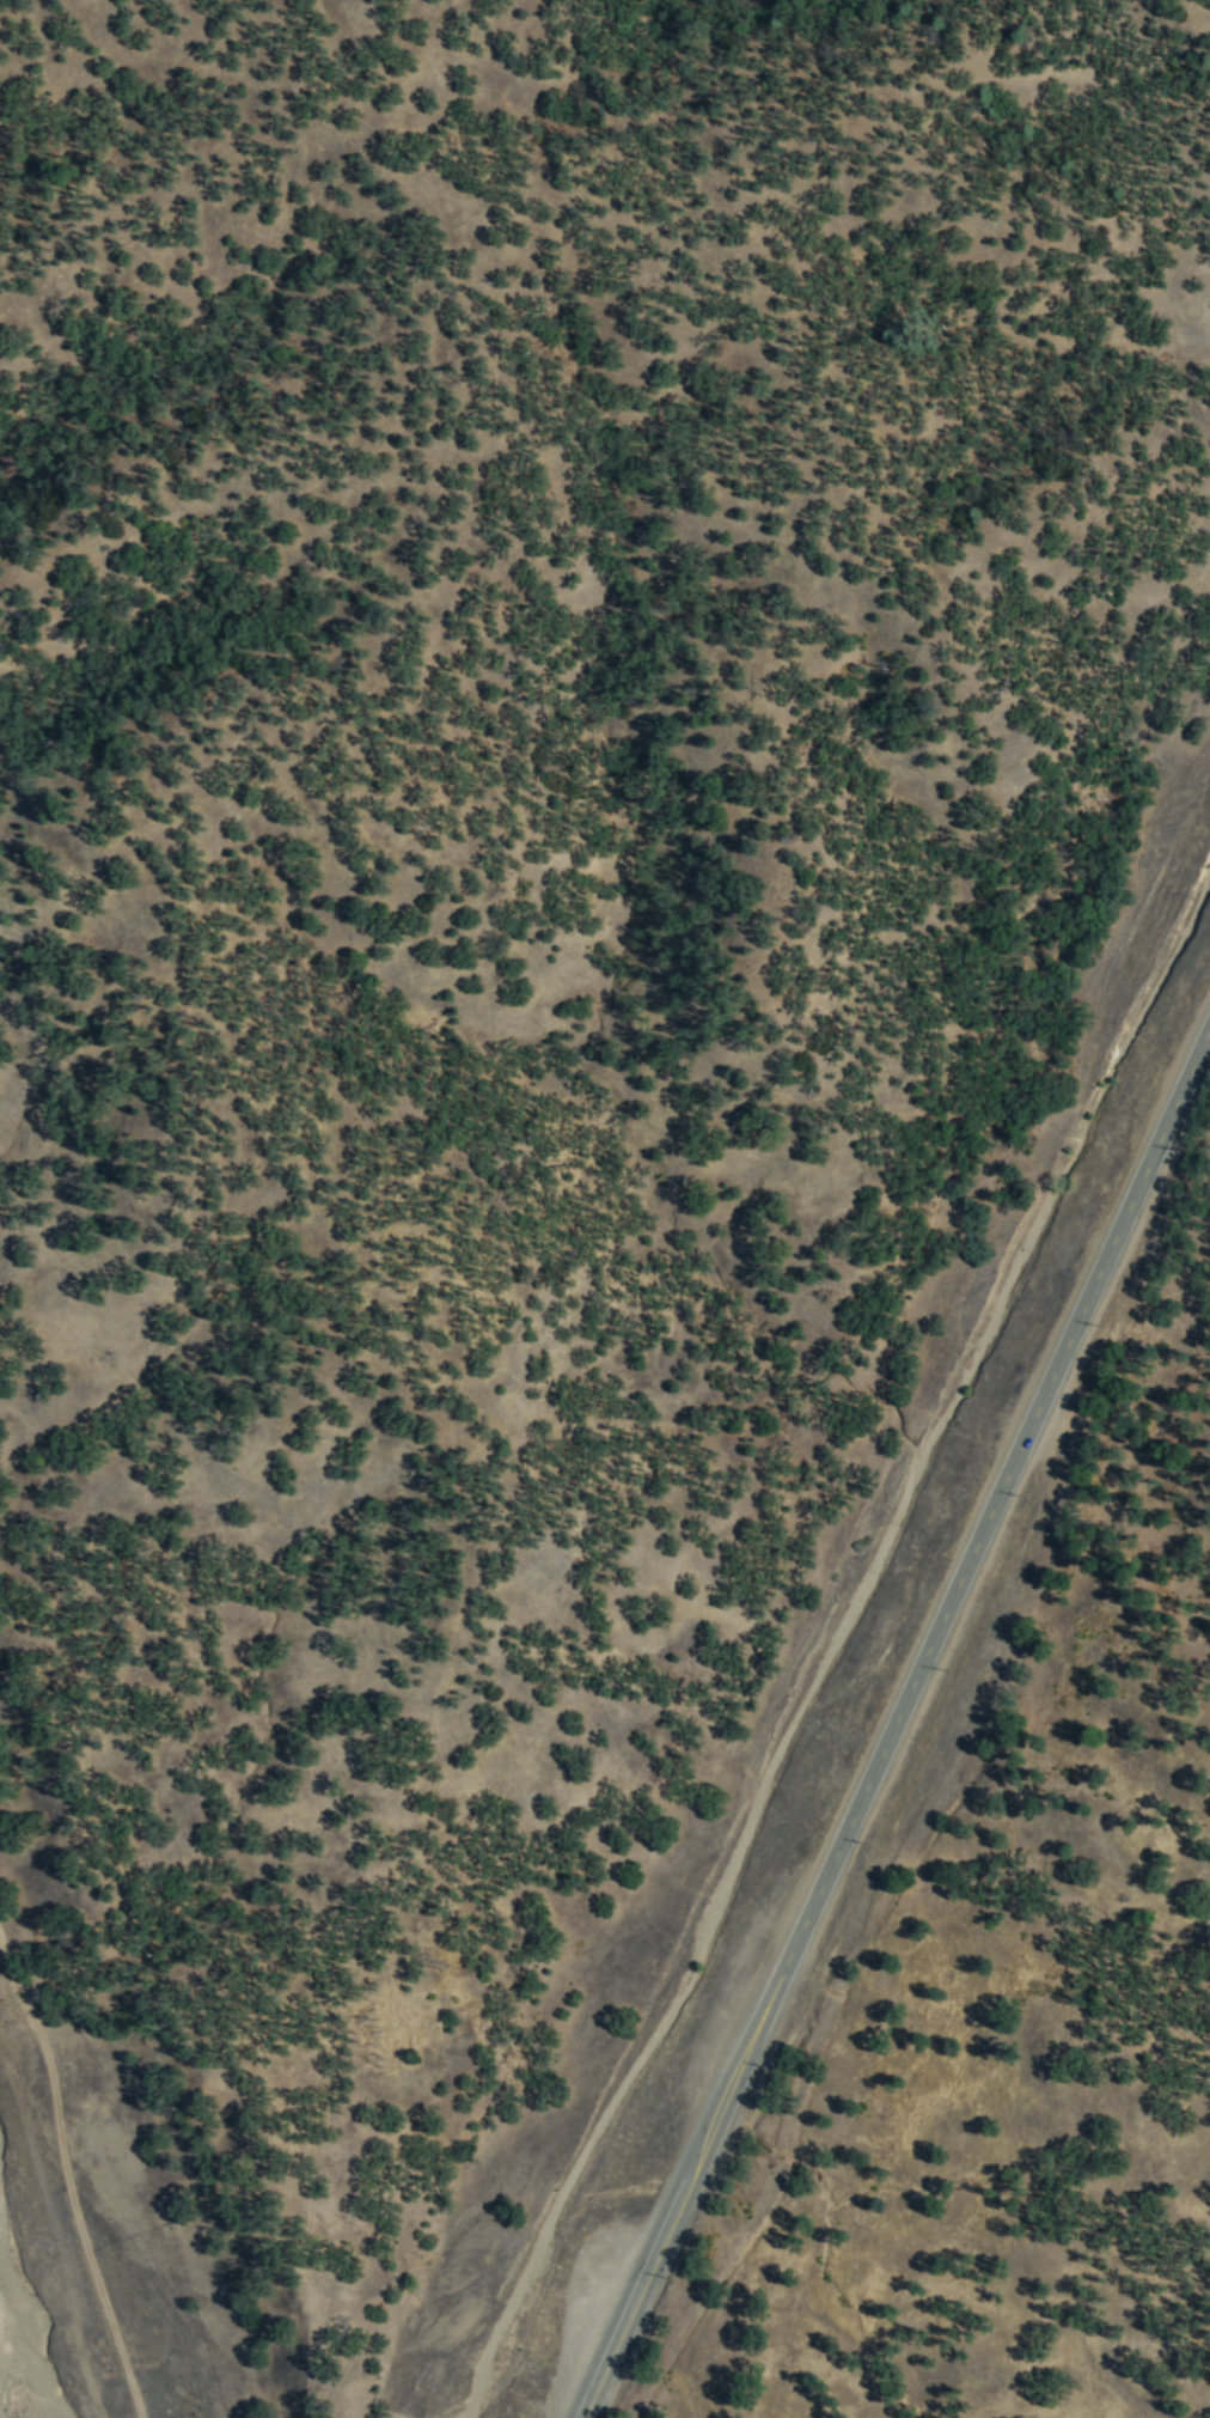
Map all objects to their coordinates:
crop: (537, 483)
road: (894, 1722)

